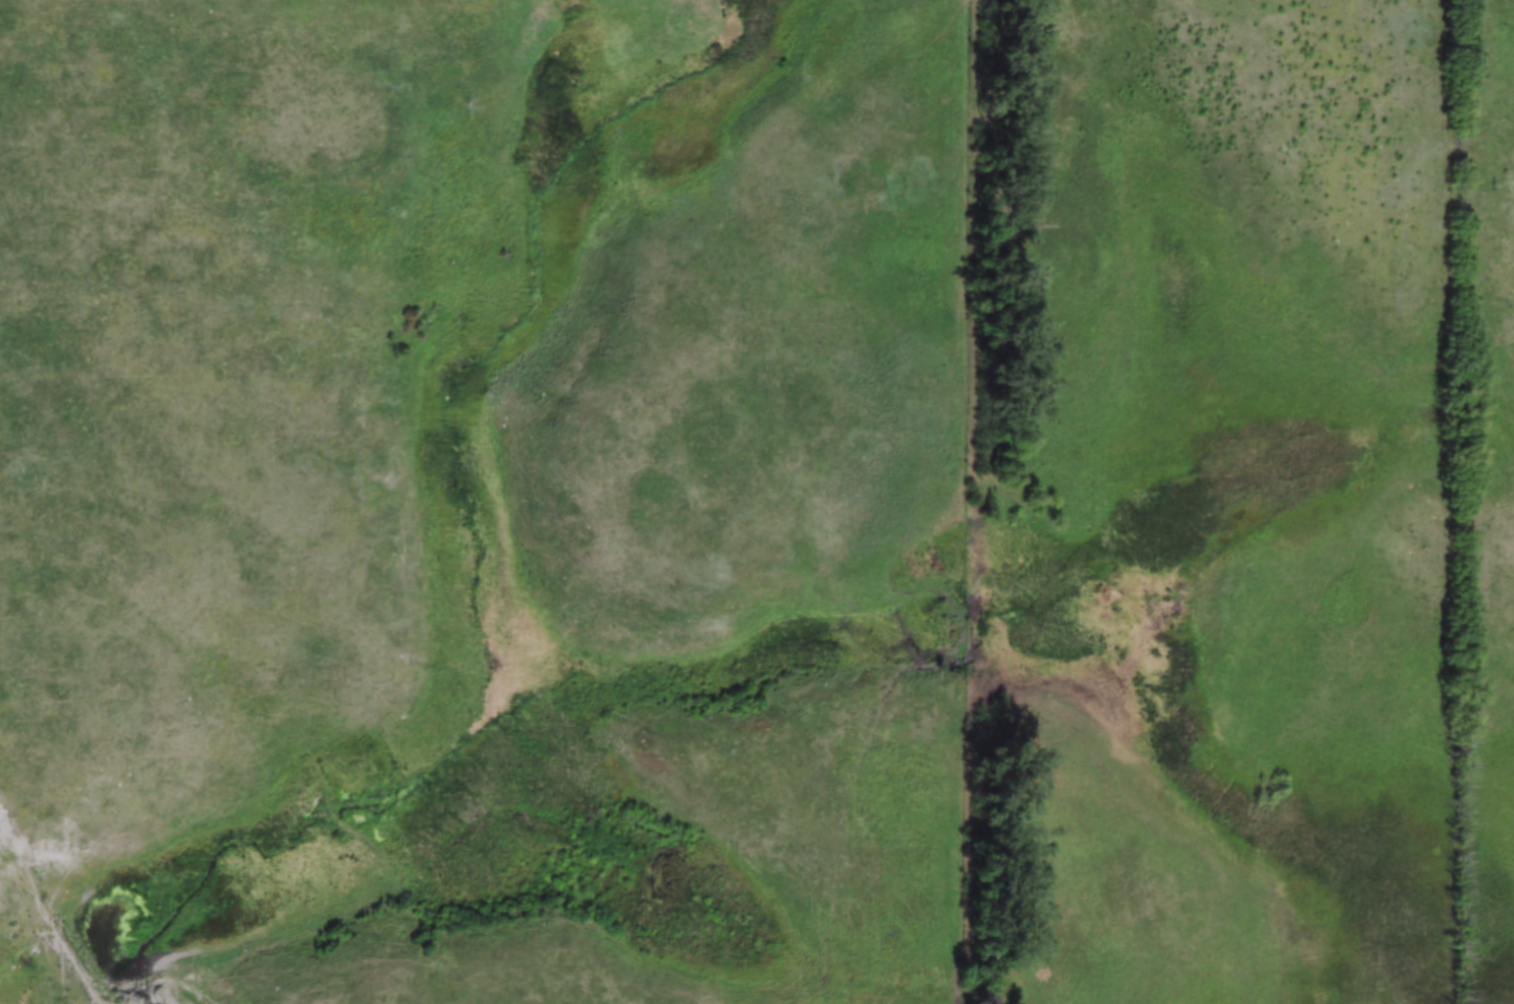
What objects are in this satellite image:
road: (52, 917)
road: (152, 994)

